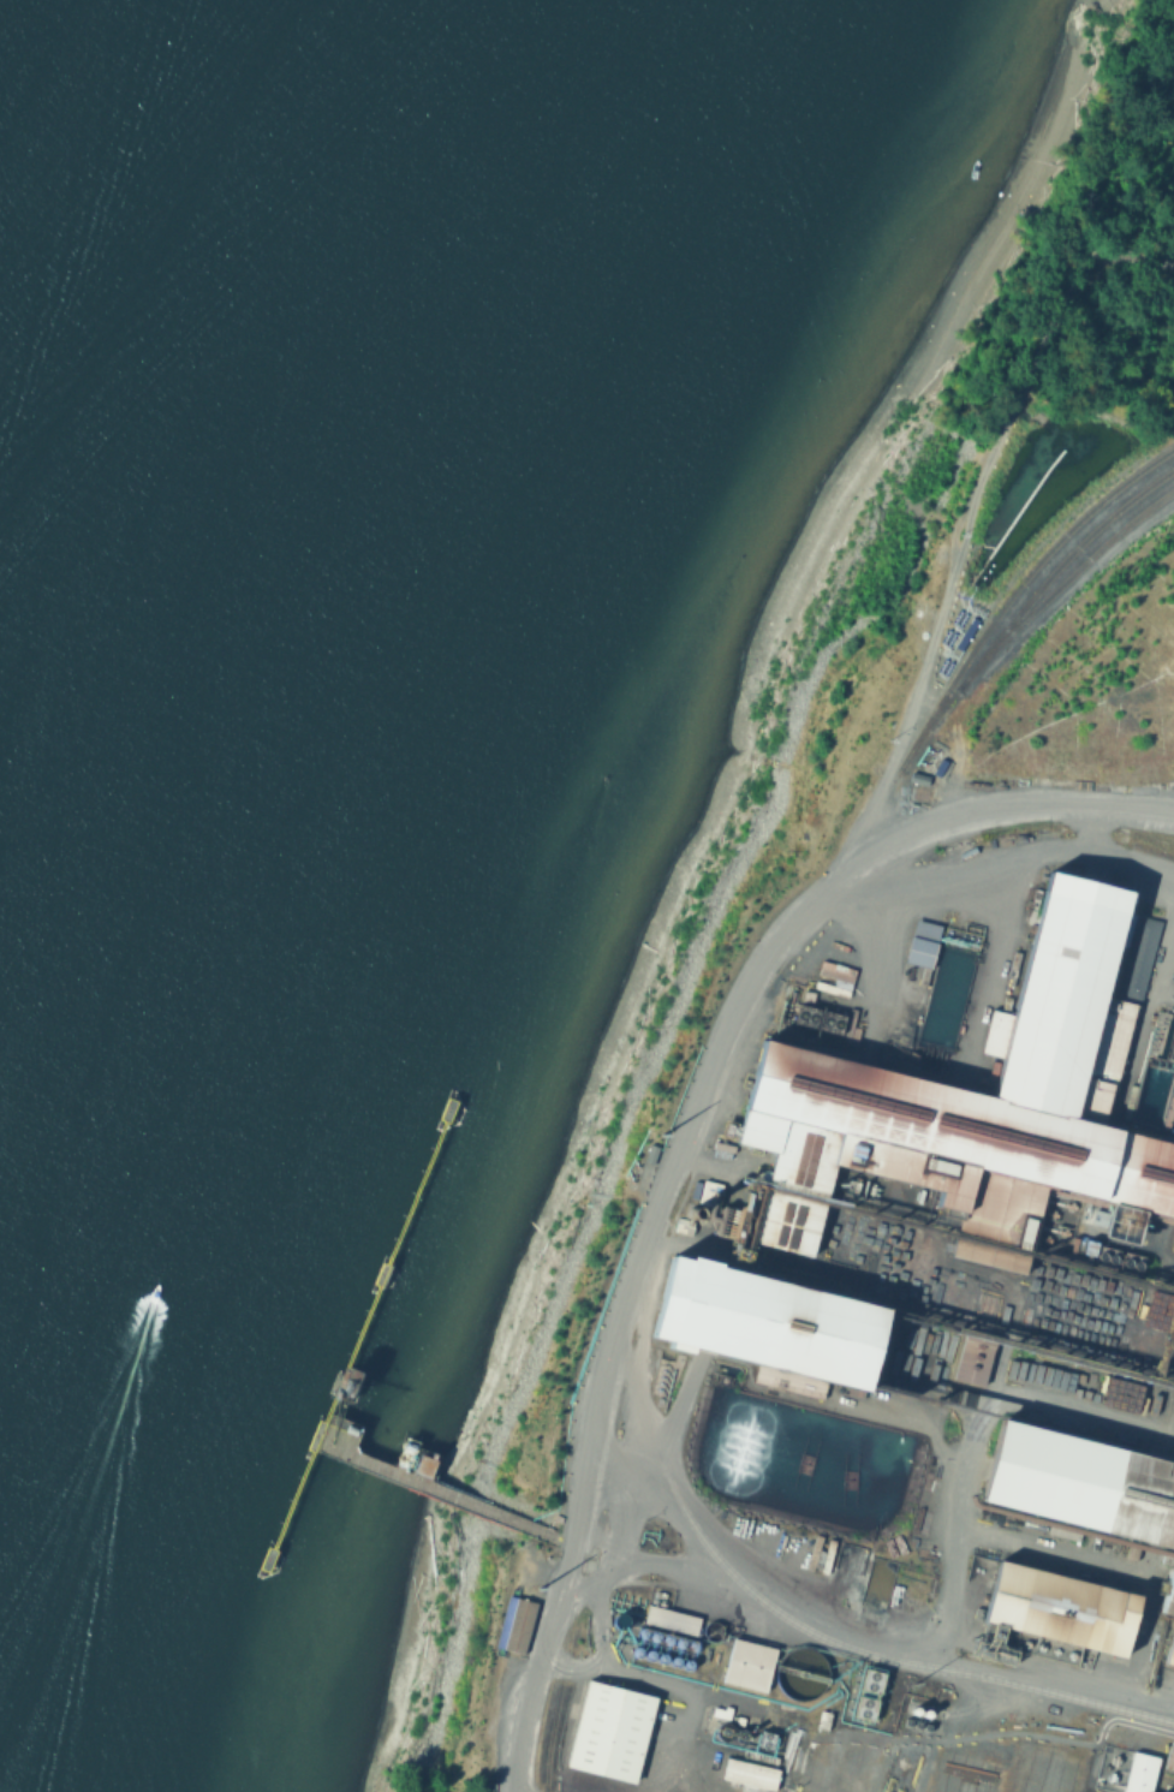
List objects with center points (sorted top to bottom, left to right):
river: (0, 0)
railway: (1062, 582)
railway: (1023, 605)
railway: (965, 659)
railway: (1132, 837)
railway: (1170, 838)
building: (922, 942)
building: (1138, 955)
building: (826, 1073)
building: (1092, 1093)
road: (678, 1145)
railway: (689, 1153)
building: (767, 1324)
pier: (356, 1336)
building: (972, 1359)
road: (633, 1393)
building: (1080, 1486)
pier: (433, 1492)
building: (1168, 1597)
railway: (763, 1605)
building: (1062, 1611)
building: (671, 1618)
building: (513, 1624)
building: (1173, 1662)
railway: (564, 1665)
building: (749, 1667)
building: (869, 1679)
road: (1144, 1725)
road: (1005, 1732)
building: (608, 1736)
building: (1170, 1758)
building: (854, 1768)
building: (750, 1774)
building: (1140, 1774)

